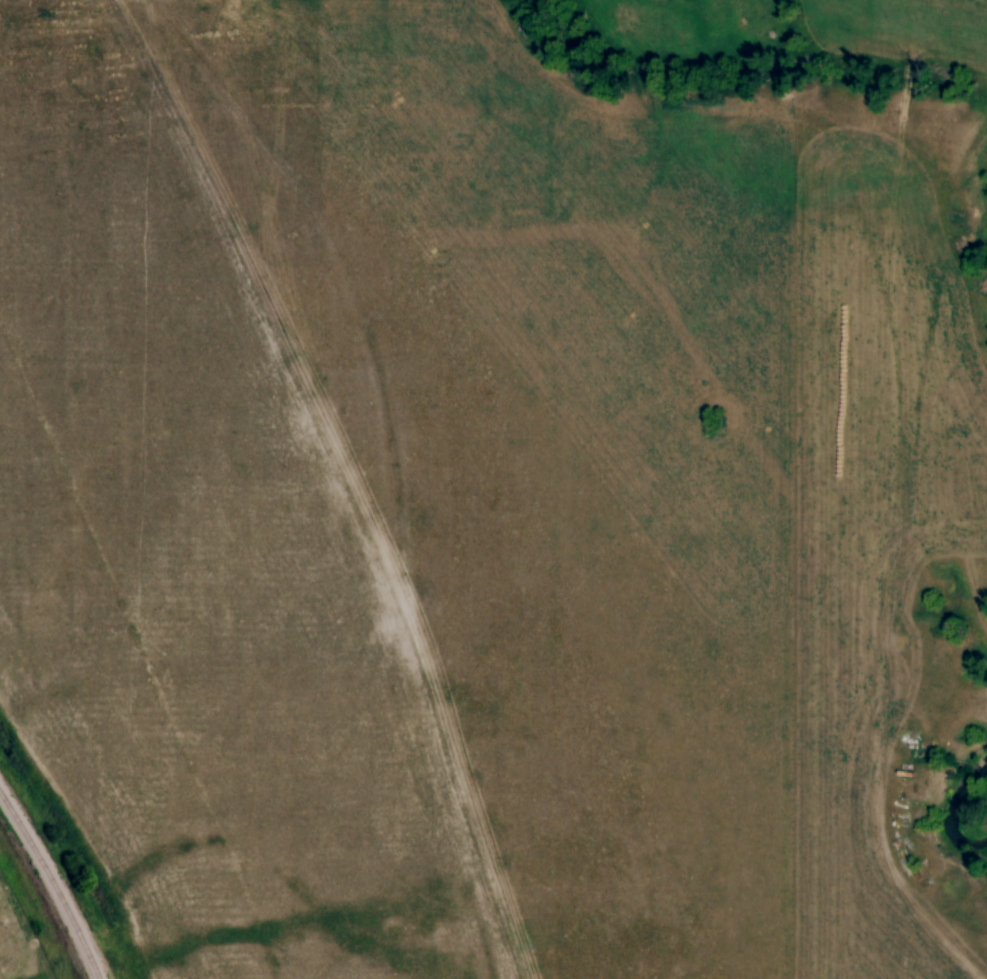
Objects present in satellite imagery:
railway: (48, 891)

